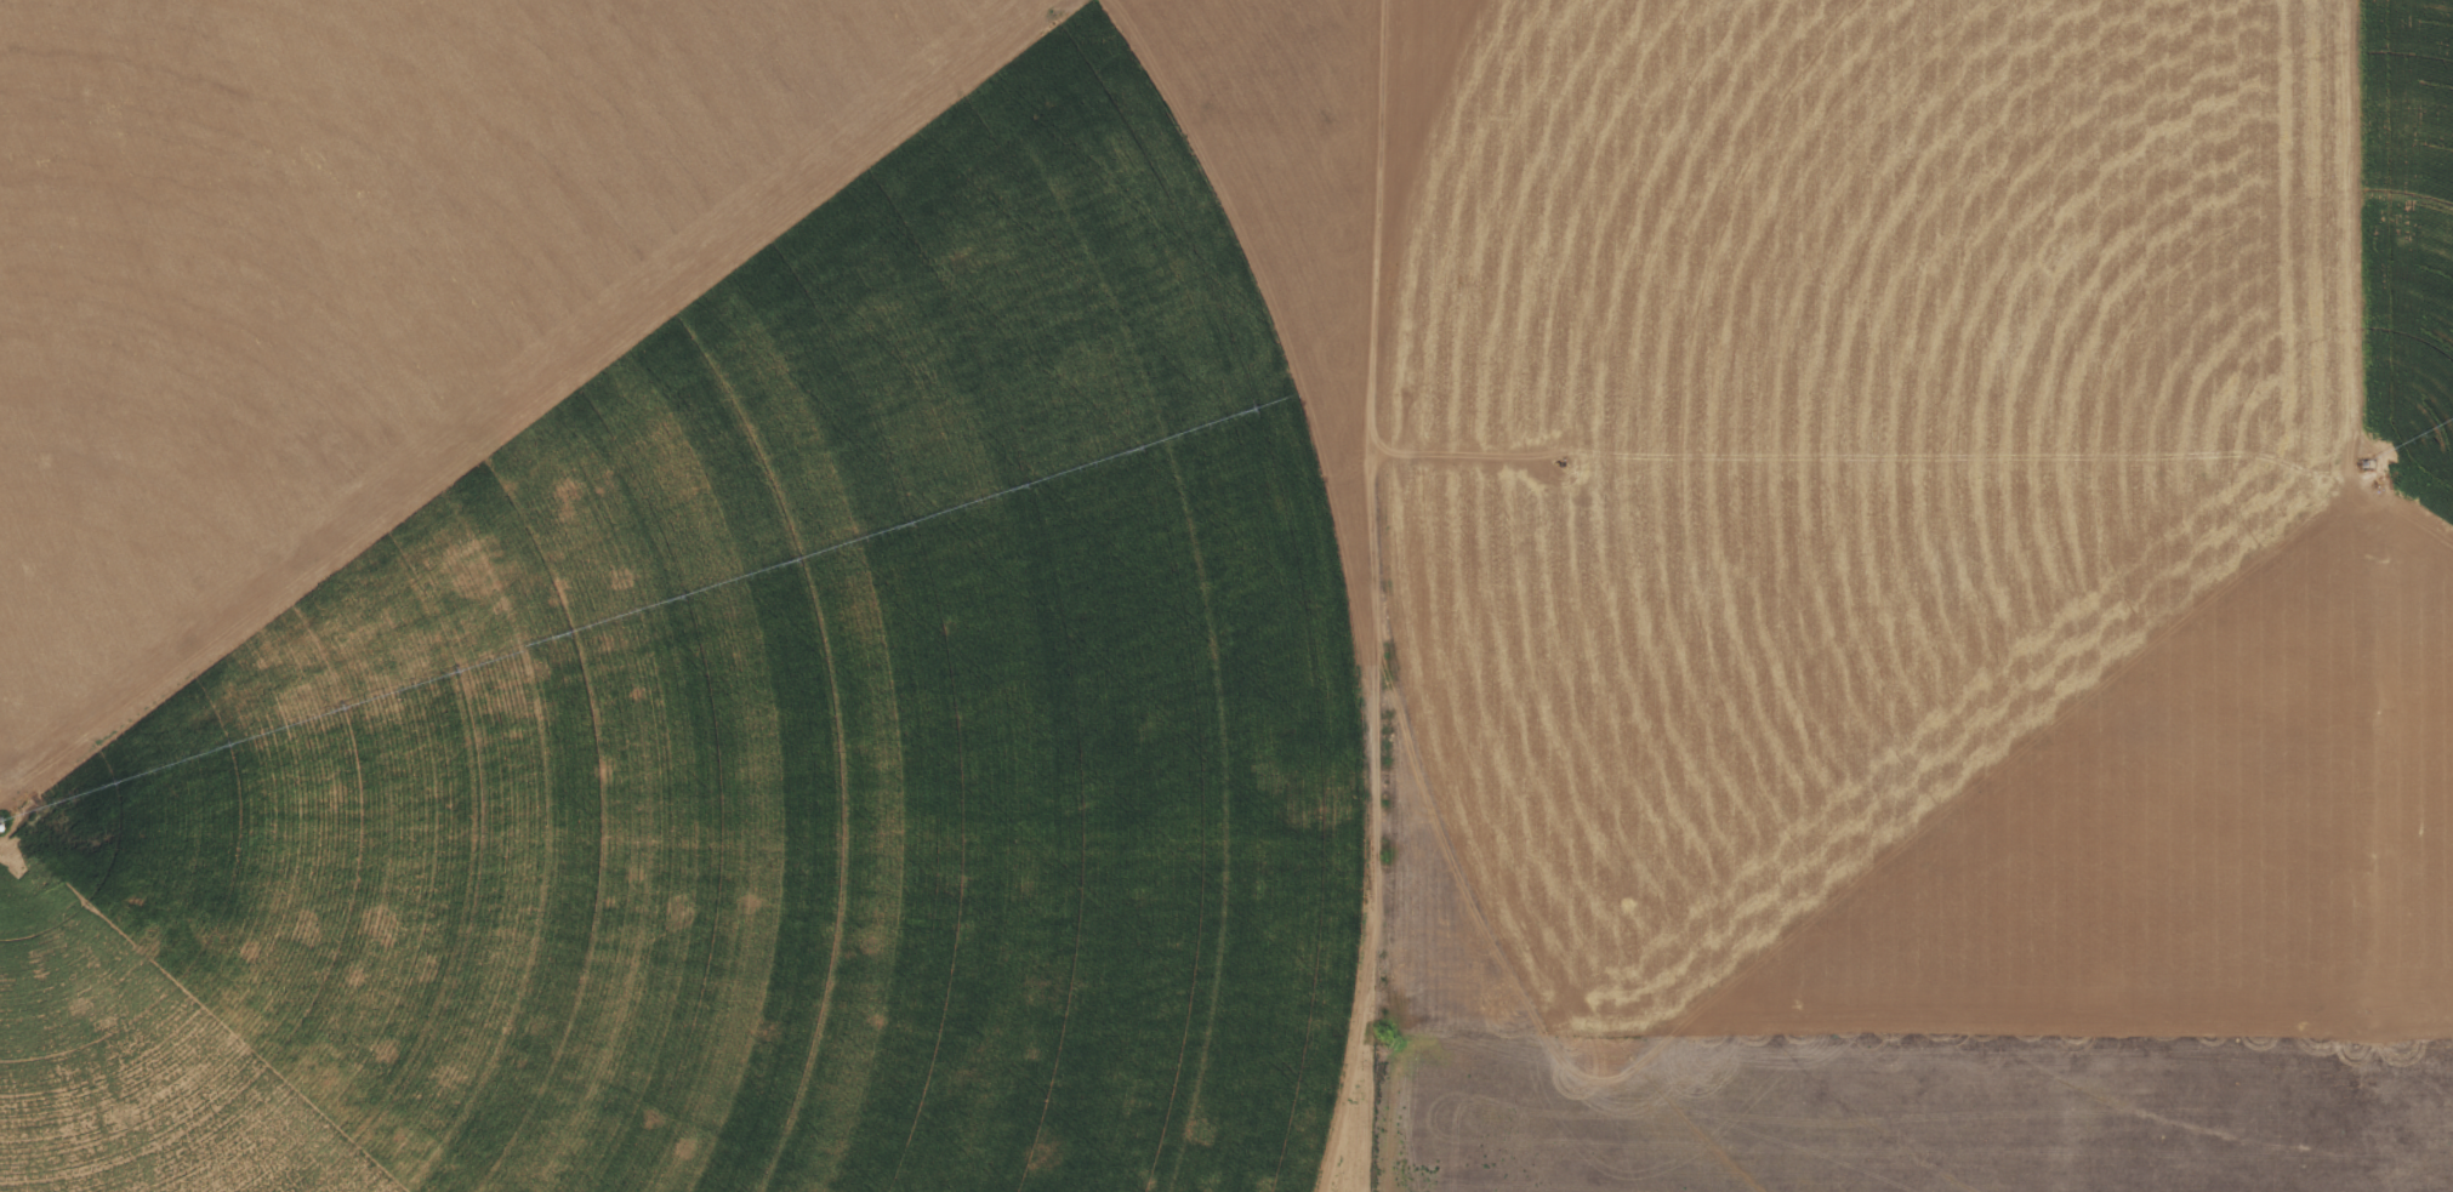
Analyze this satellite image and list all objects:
road: (1366, 595)

